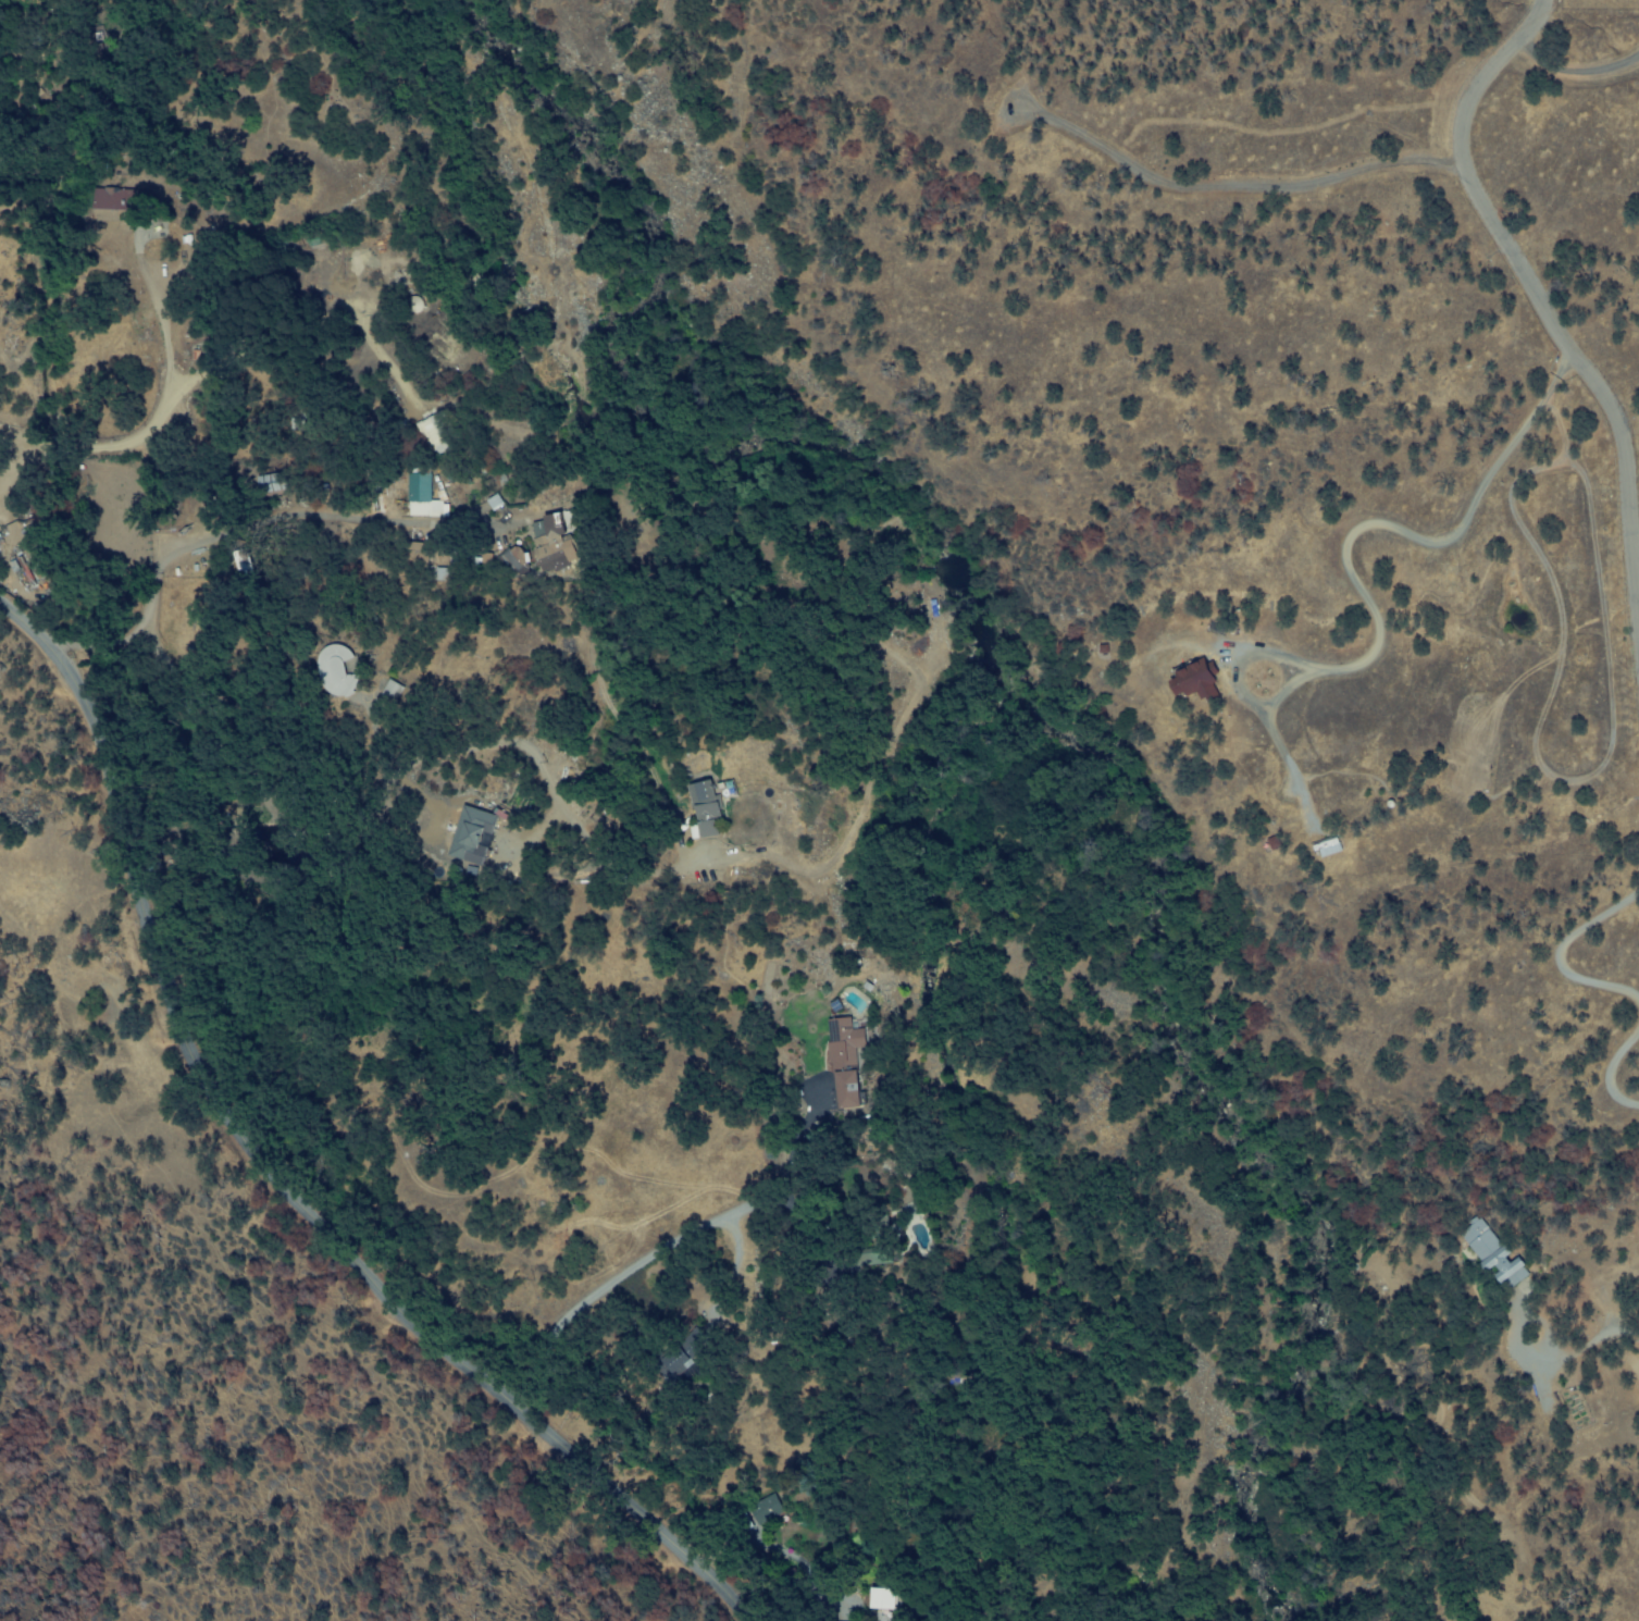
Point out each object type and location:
building: (15, 59)
road: (1536, 288)
building: (448, 346)
river: (658, 384)
building: (423, 495)
building: (554, 543)
building: (335, 671)
building: (1189, 683)
building: (392, 691)
building: (705, 801)
river: (1166, 893)
building: (844, 1065)
road: (498, 1161)
road: (271, 1176)
road: (691, 1192)
building: (1492, 1255)
road: (859, 1301)
river: (1290, 1393)
road: (758, 1405)
building: (891, 1614)

